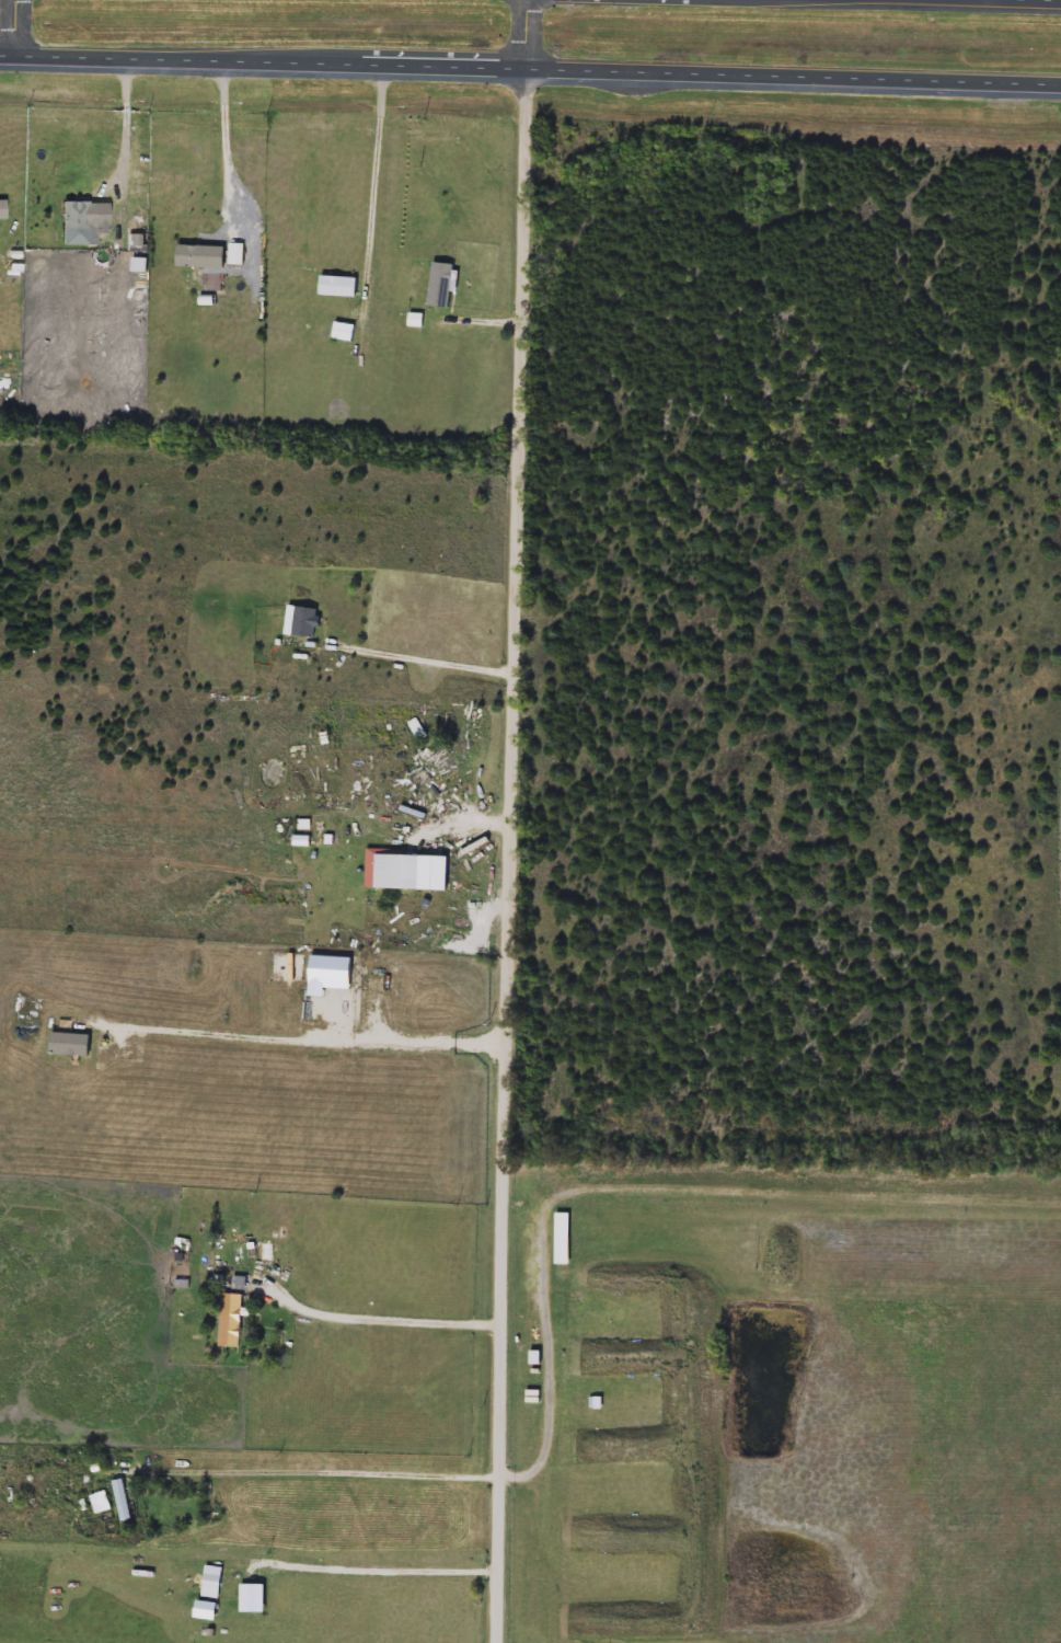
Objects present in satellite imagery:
road: (1037, 0)
road: (14, 31)
road: (530, 72)
road: (129, 127)
road: (232, 147)
road: (378, 172)
building: (82, 217)
building: (447, 285)
building: (343, 288)
building: (347, 333)
building: (305, 623)
road: (426, 656)
building: (440, 767)
road: (514, 820)
building: (440, 874)
road: (307, 1041)
building: (567, 1240)
road: (383, 1310)
building: (235, 1321)
road: (546, 1330)
building: (539, 1358)
building: (599, 1403)
road: (320, 1459)
road: (380, 1559)

